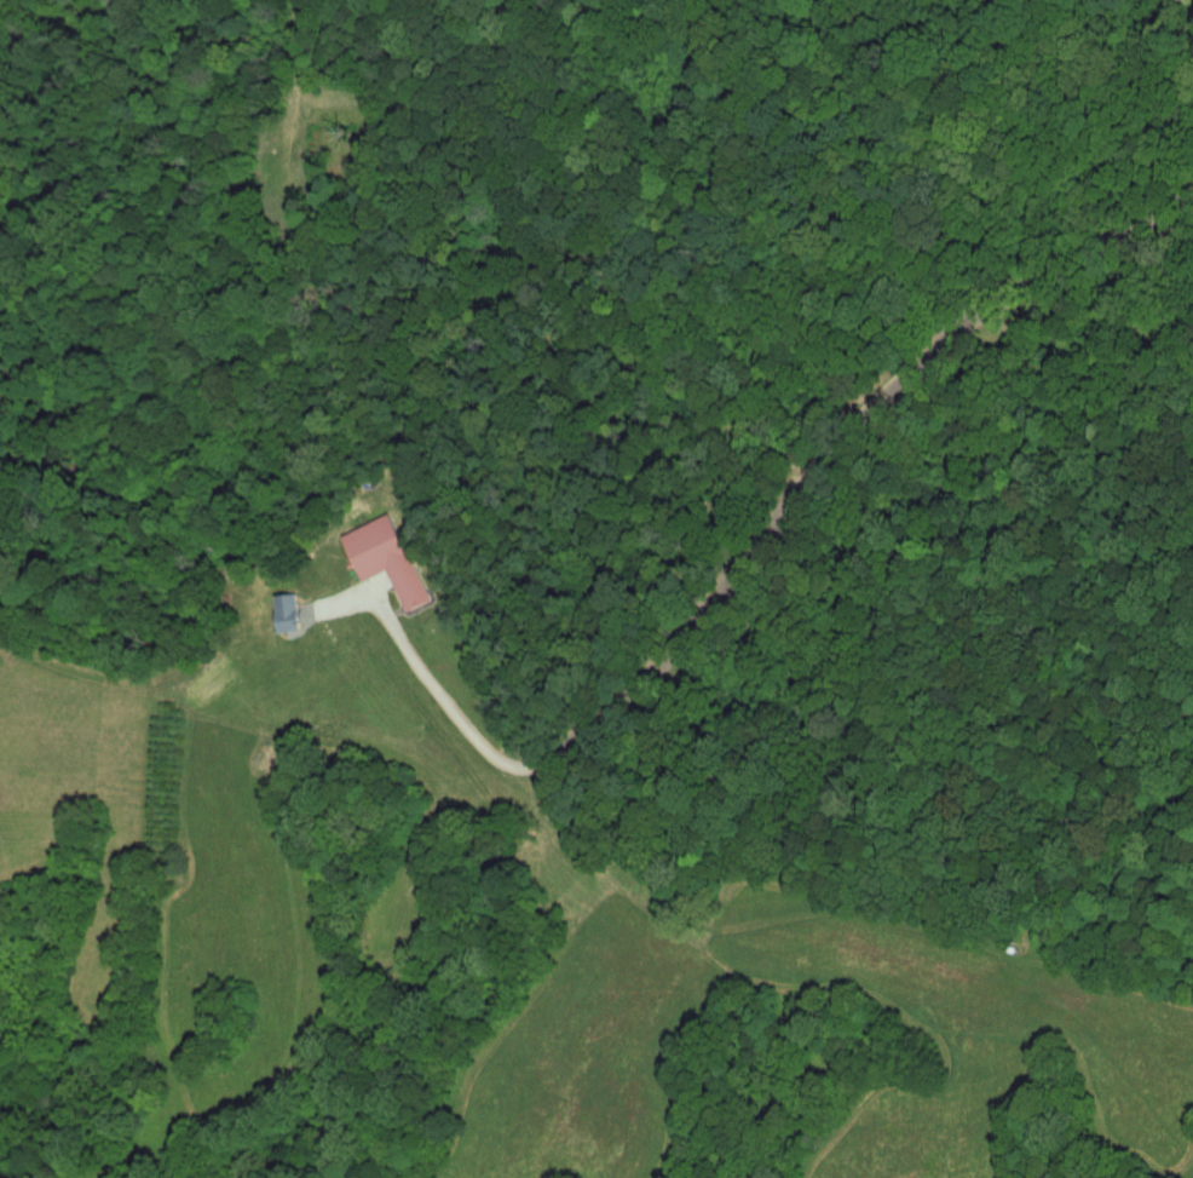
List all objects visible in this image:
building: (390, 561)
road: (739, 567)
building: (289, 615)

